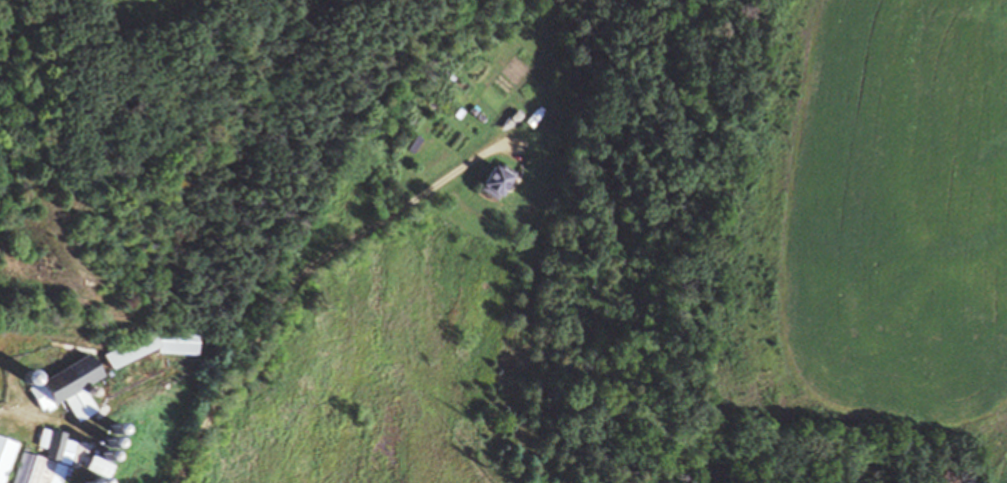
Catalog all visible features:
road: (44, 25)
building: (450, 84)
building: (450, 111)
building: (496, 180)
road: (300, 276)
building: (177, 348)
building: (30, 374)
building: (69, 384)
building: (92, 390)
road: (67, 422)
building: (115, 429)
building: (109, 442)
building: (105, 453)
building: (5, 454)
building: (43, 459)
building: (99, 466)
building: (94, 479)

